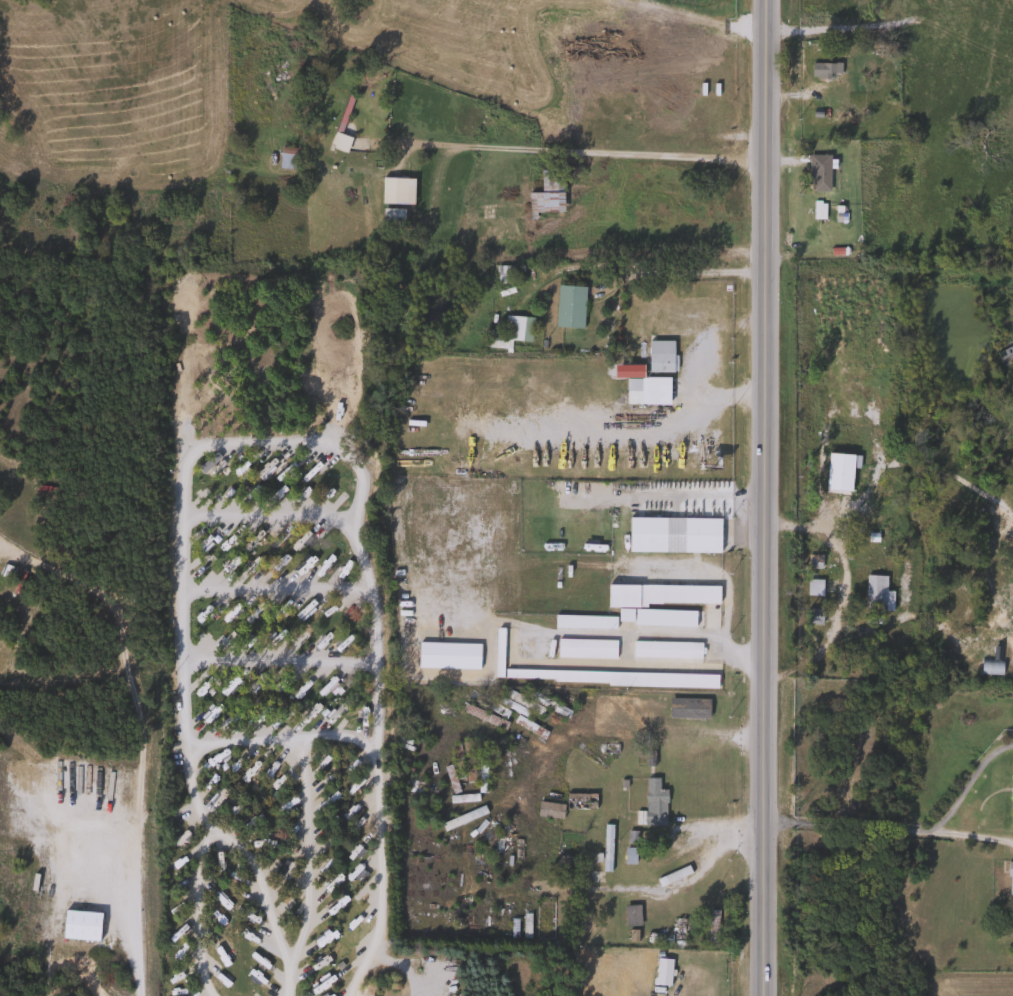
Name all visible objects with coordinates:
building: (822, 70)
road: (659, 156)
building: (284, 158)
building: (817, 173)
building: (395, 191)
building: (545, 193)
building: (815, 210)
building: (390, 215)
building: (501, 275)
road: (651, 278)
road: (246, 301)
building: (568, 307)
building: (508, 332)
building: (658, 357)
road: (252, 374)
building: (646, 392)
road: (722, 397)
road: (841, 409)
road: (271, 438)
road: (904, 466)
building: (837, 473)
road: (764, 497)
road: (271, 515)
building: (672, 536)
building: (812, 589)
road: (278, 590)
building: (873, 594)
road: (843, 596)
building: (667, 599)
building: (813, 618)
building: (582, 623)
road: (575, 633)
building: (584, 650)
building: (664, 651)
road: (283, 658)
building: (594, 676)
building: (535, 704)
building: (686, 709)
building: (626, 712)
building: (482, 718)
building: (527, 728)
road: (139, 736)
road: (340, 738)
building: (479, 773)
building: (1011, 787)
building: (578, 802)
building: (652, 803)
building: (547, 811)
road: (208, 820)
road: (908, 831)
road: (972, 837)
building: (630, 838)
building: (605, 848)
building: (627, 855)
road: (700, 863)
building: (671, 876)
building: (1009, 879)
road: (199, 912)
building: (629, 915)
building: (542, 920)
building: (688, 926)
building: (710, 928)
building: (677, 931)
building: (655, 938)

